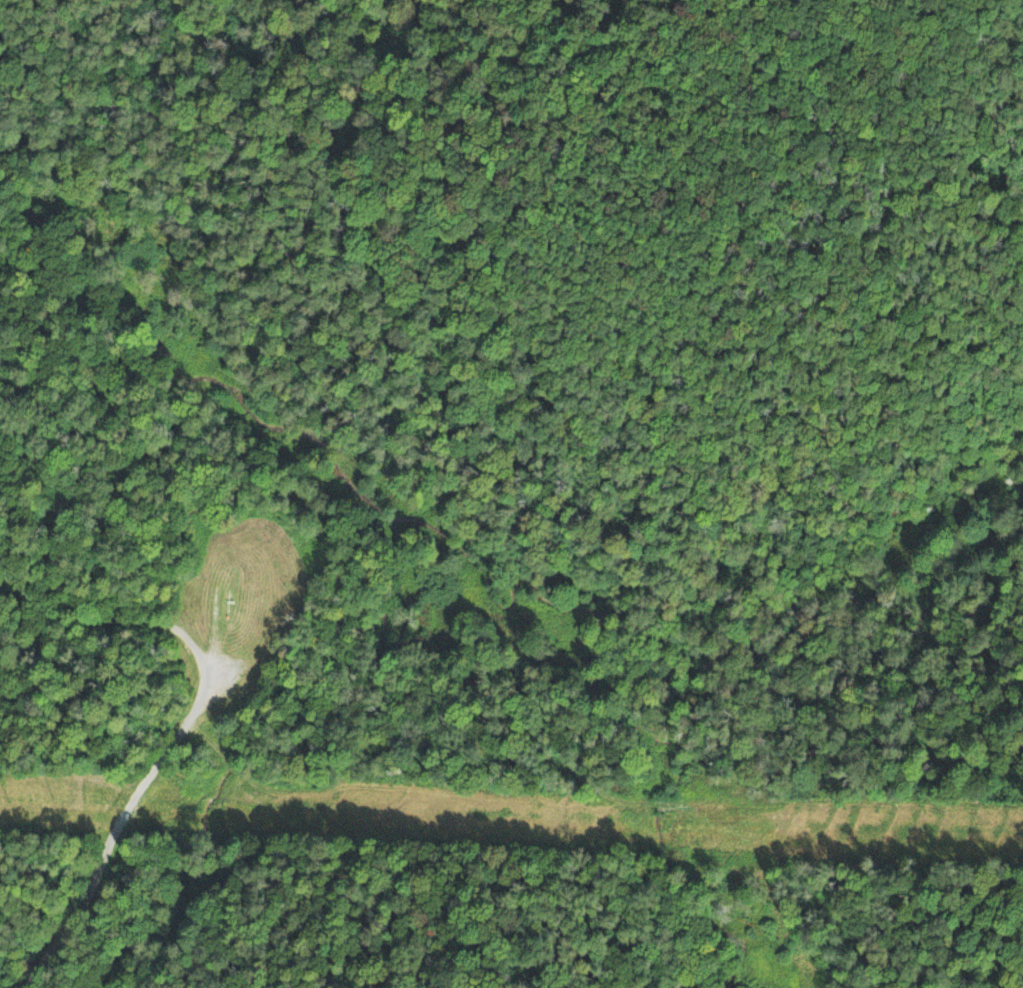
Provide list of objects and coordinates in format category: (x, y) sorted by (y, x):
road: (205, 664)

